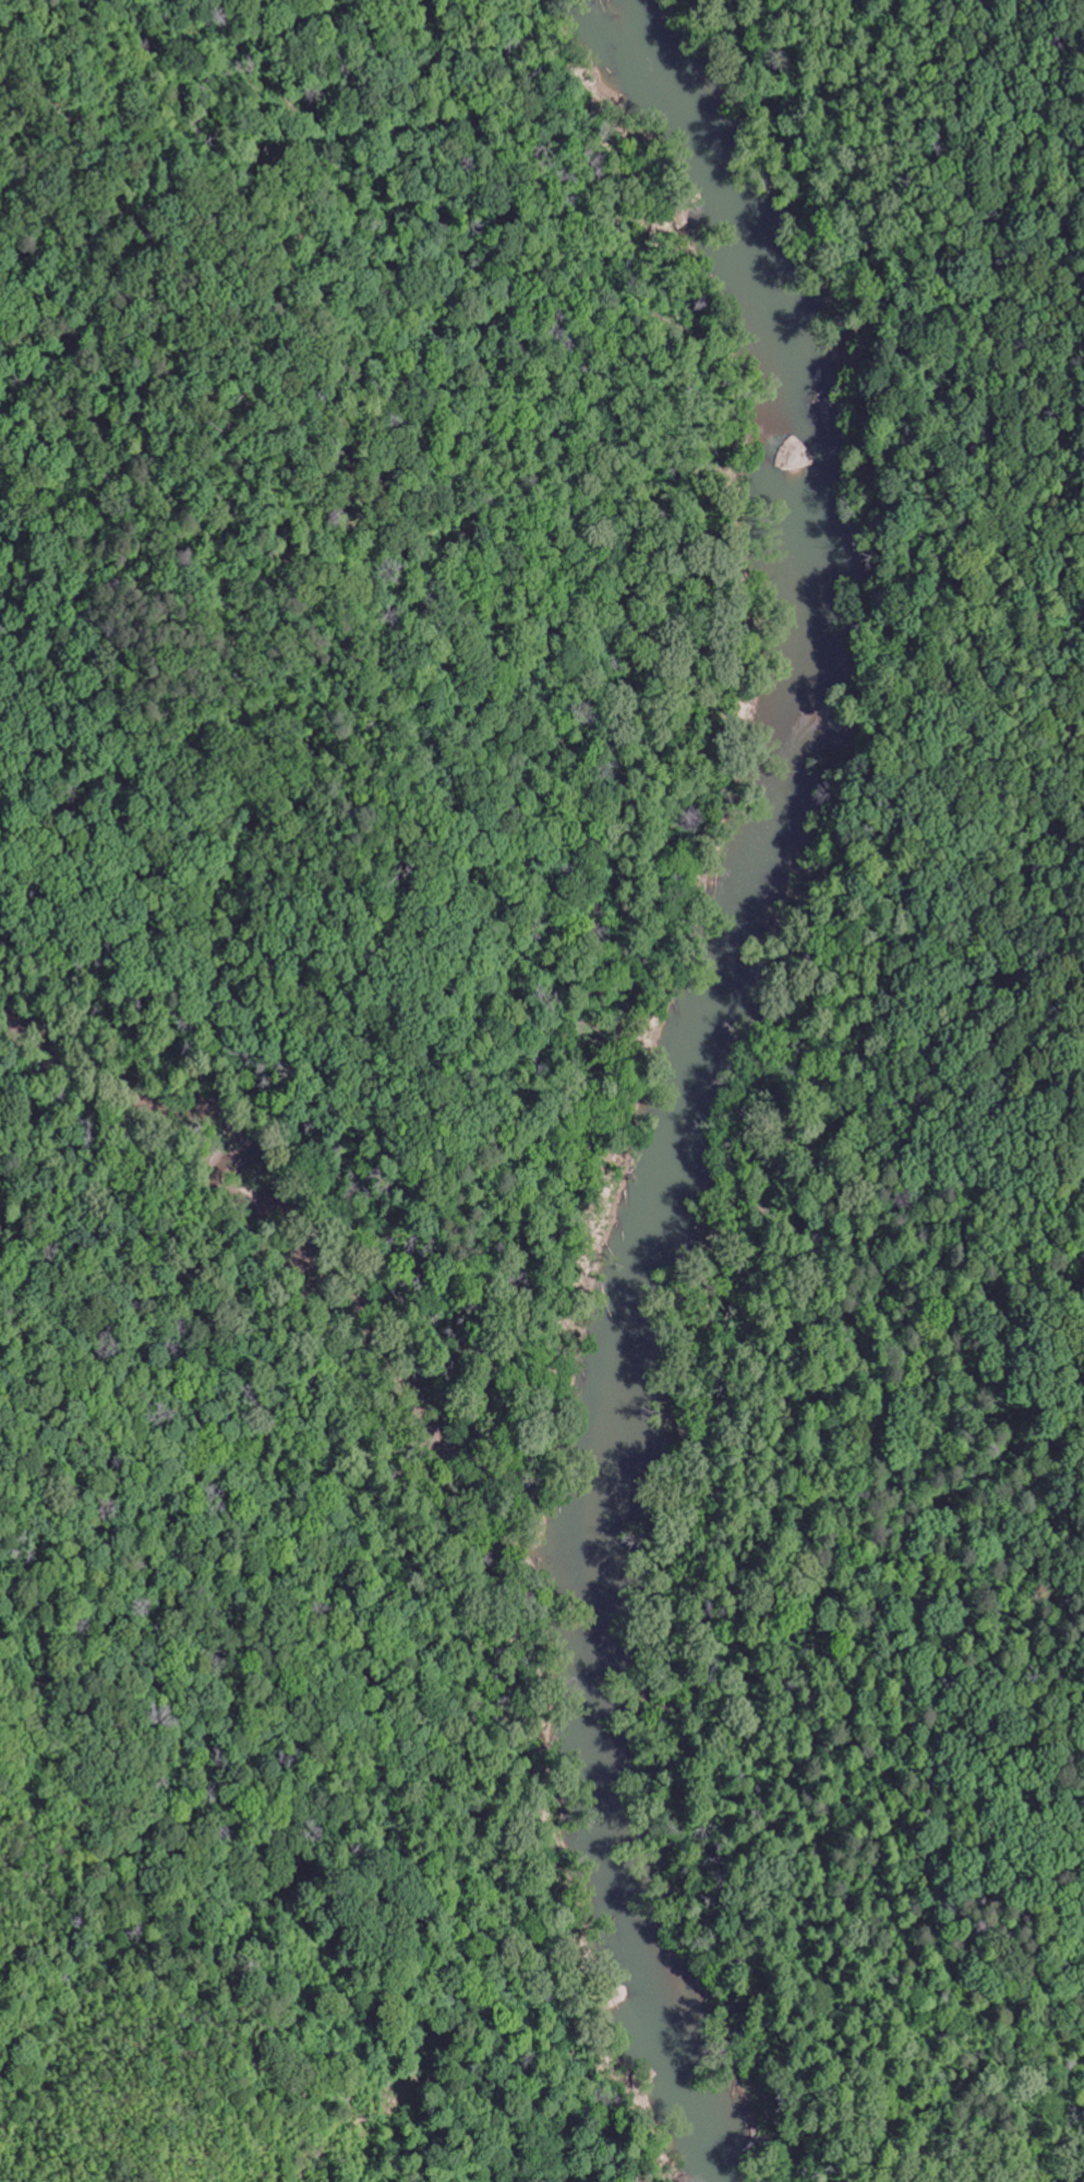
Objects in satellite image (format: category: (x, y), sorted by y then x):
river: (671, 1075)

